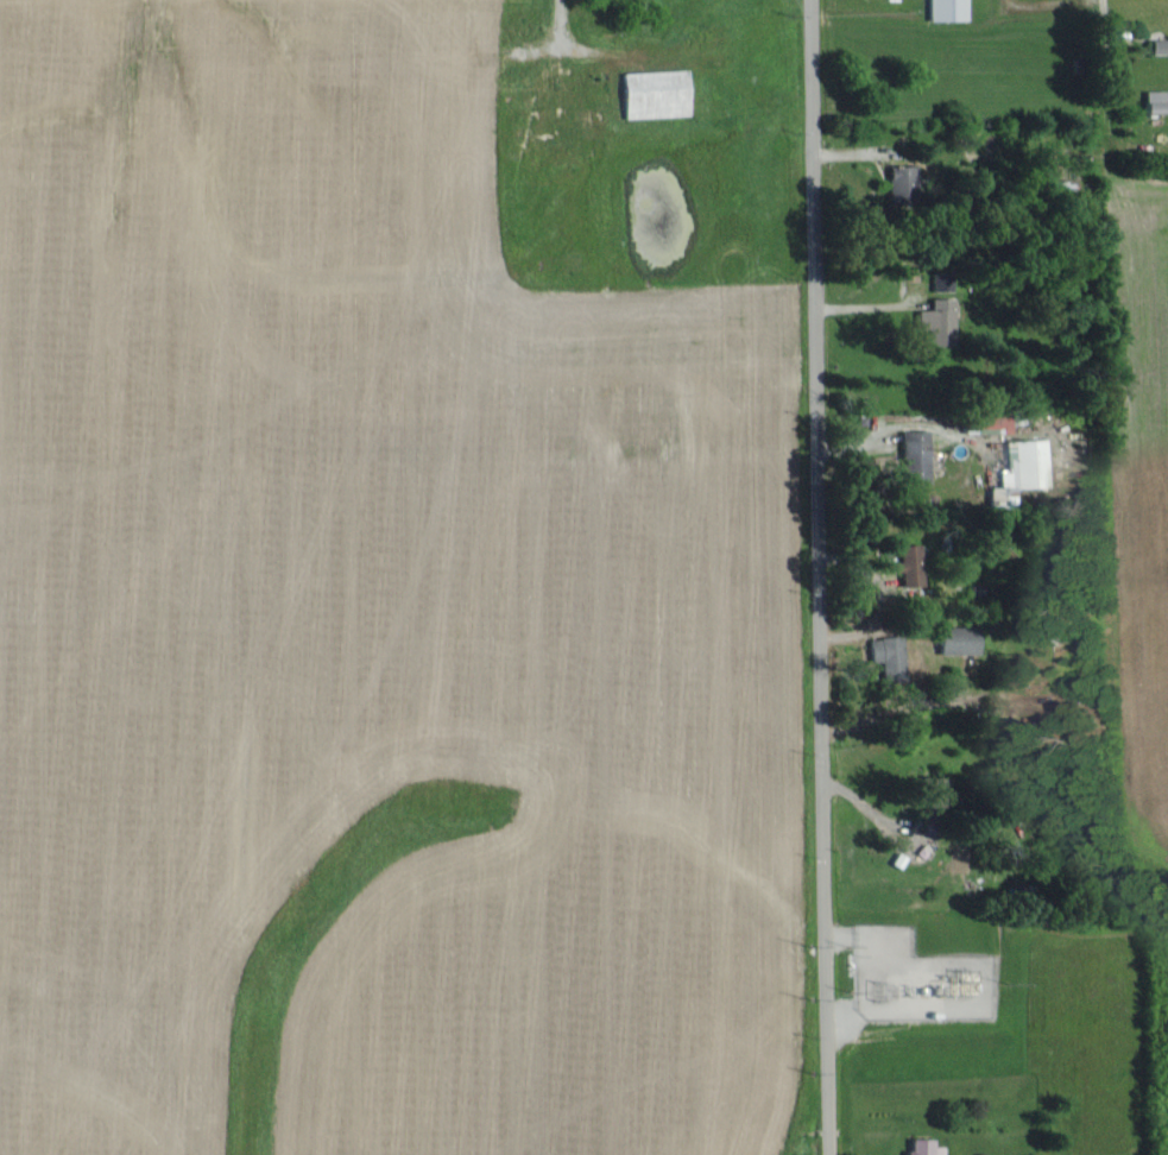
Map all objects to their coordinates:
building: (946, 10)
building: (1158, 45)
building: (1154, 101)
building: (903, 183)
building: (937, 322)
building: (914, 456)
building: (1019, 472)
building: (909, 563)
road: (819, 577)
building: (958, 638)
building: (888, 655)
building: (923, 1147)

